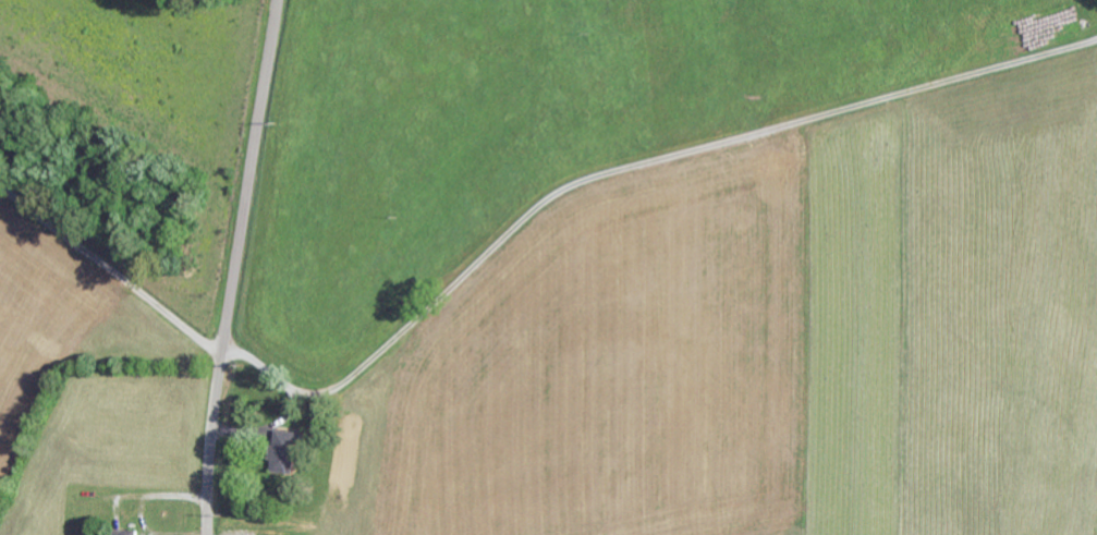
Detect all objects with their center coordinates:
road: (251, 178)
road: (109, 279)
road: (210, 445)
building: (289, 451)
building: (133, 531)

